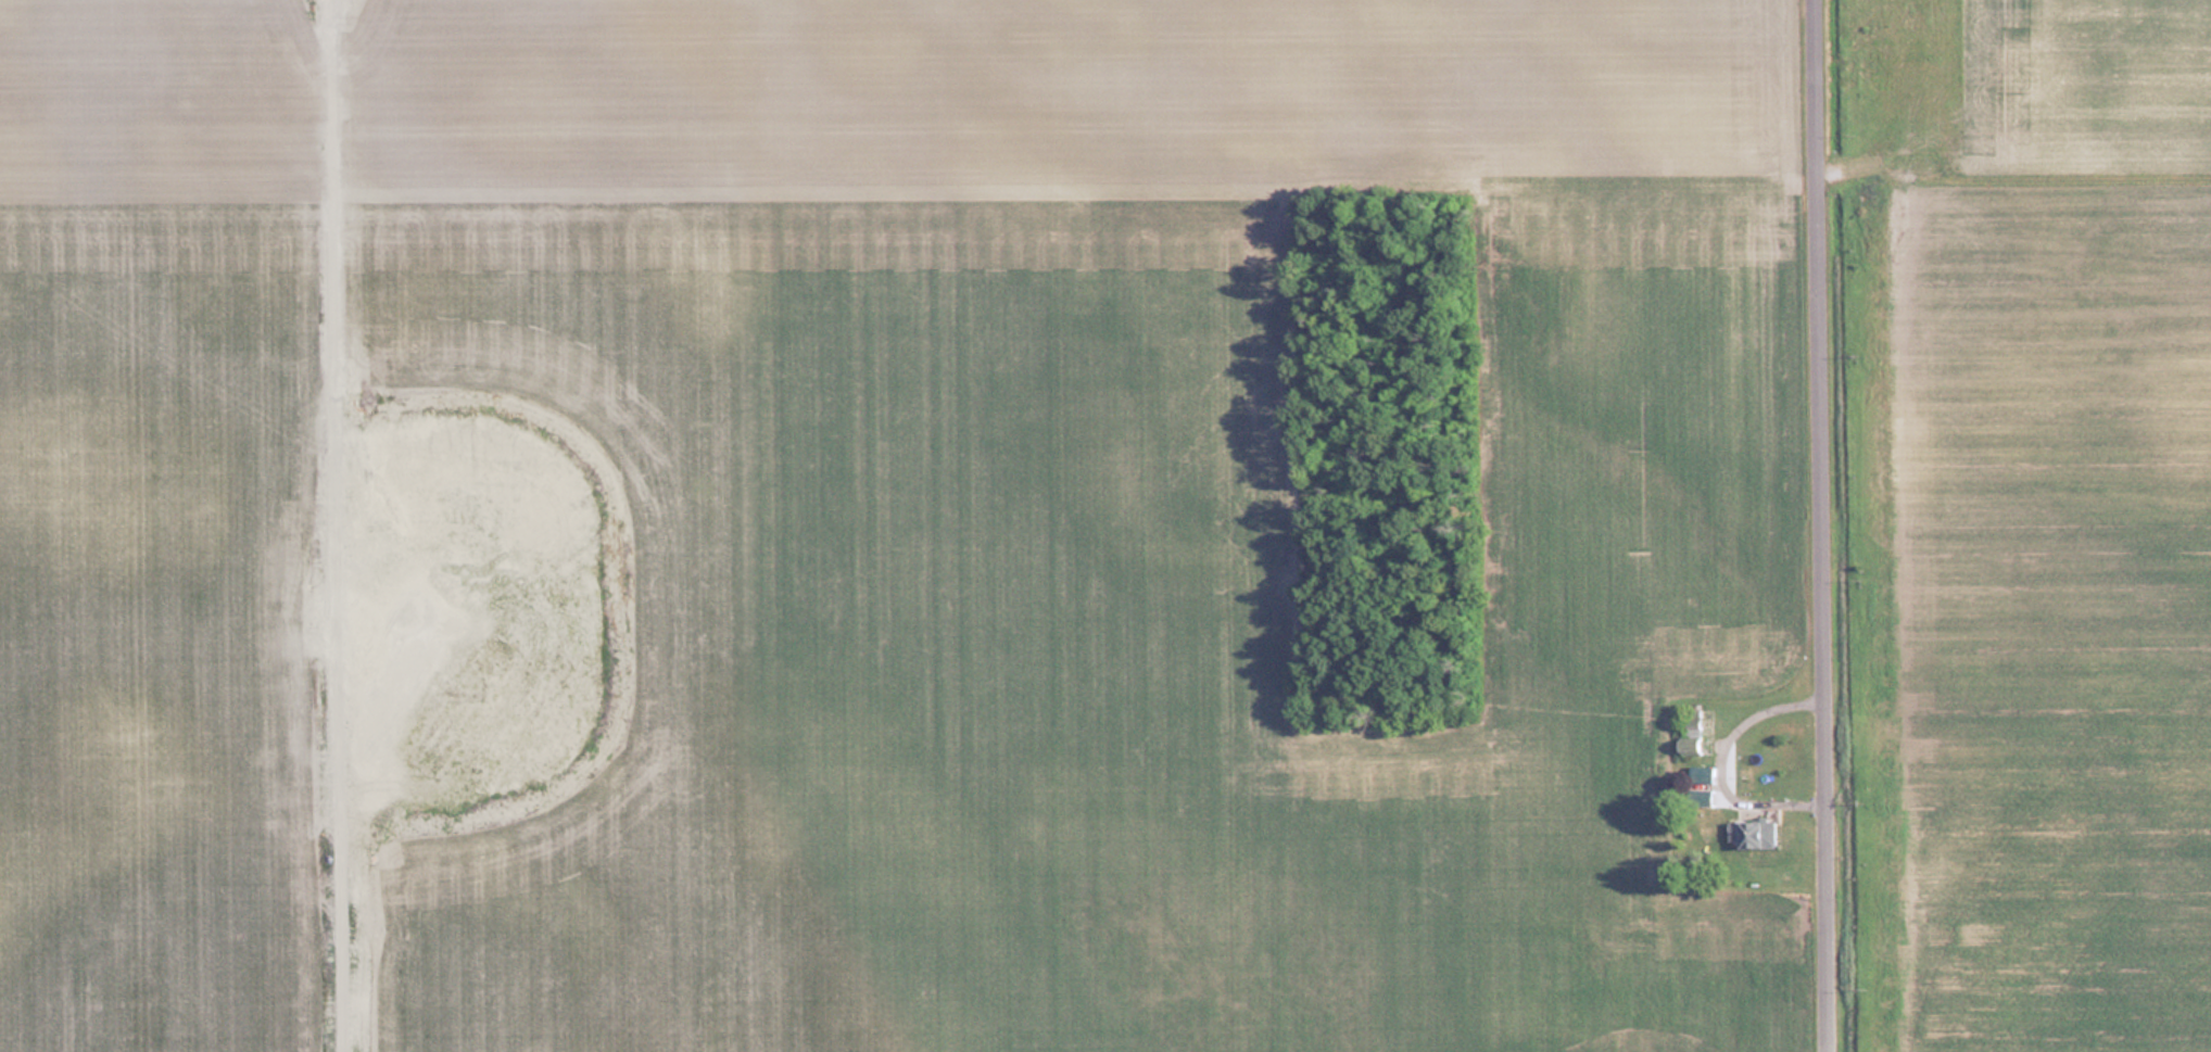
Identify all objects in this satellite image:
road: (1823, 525)
building: (1752, 833)

